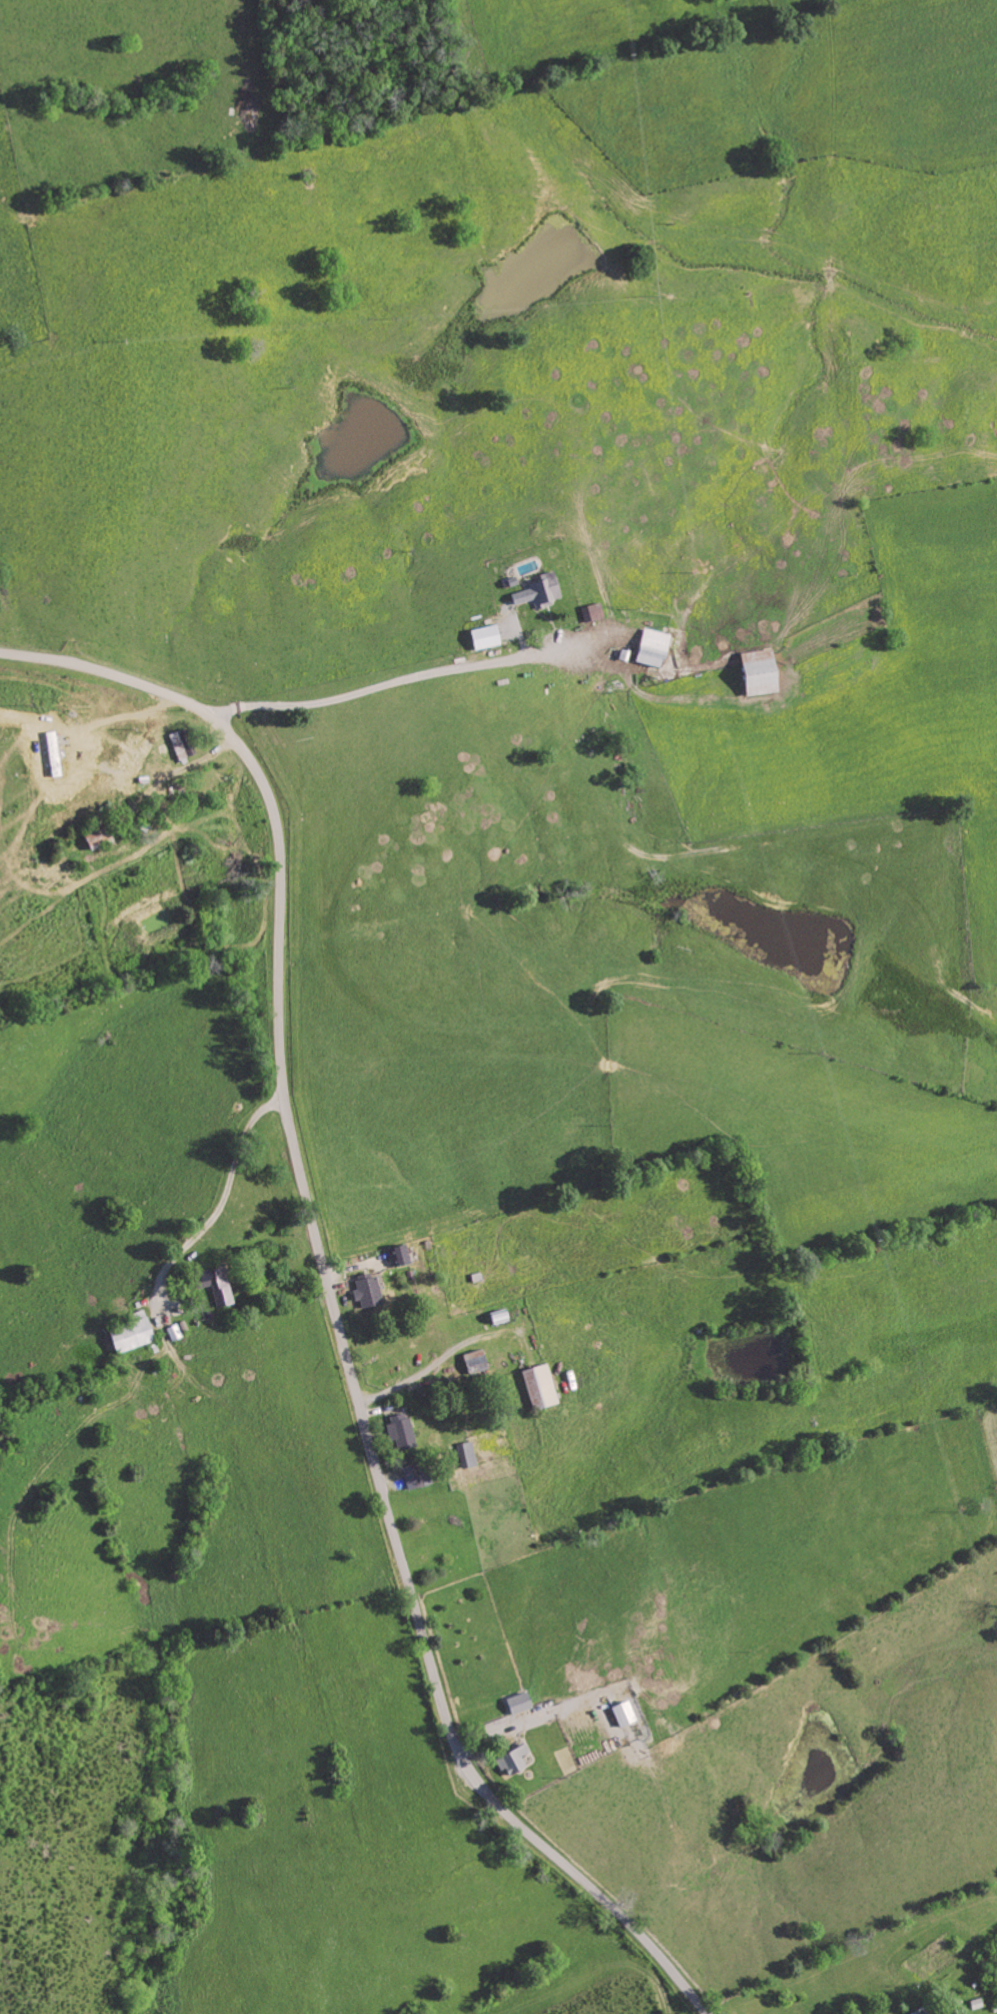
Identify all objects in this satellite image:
building: (535, 593)
building: (590, 613)
building: (647, 649)
building: (753, 674)
road: (393, 684)
building: (180, 745)
building: (138, 759)
road: (174, 772)
road: (222, 1198)
building: (397, 1256)
building: (213, 1286)
building: (363, 1293)
road: (333, 1297)
building: (172, 1333)
building: (124, 1338)
building: (472, 1363)
building: (536, 1389)
building: (398, 1433)
building: (464, 1456)
building: (515, 1705)
building: (619, 1715)
building: (509, 1762)
building: (919, 2011)

